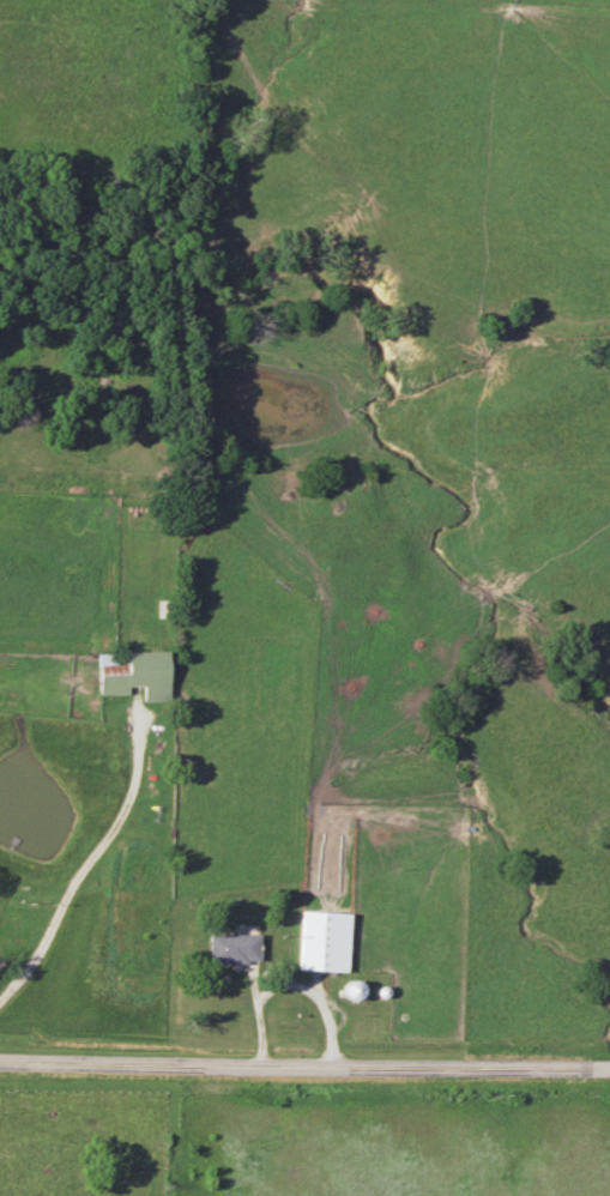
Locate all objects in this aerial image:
building: (134, 673)
road: (90, 862)
building: (14, 922)
building: (324, 941)
building: (232, 947)
road: (289, 985)
road: (304, 1070)

